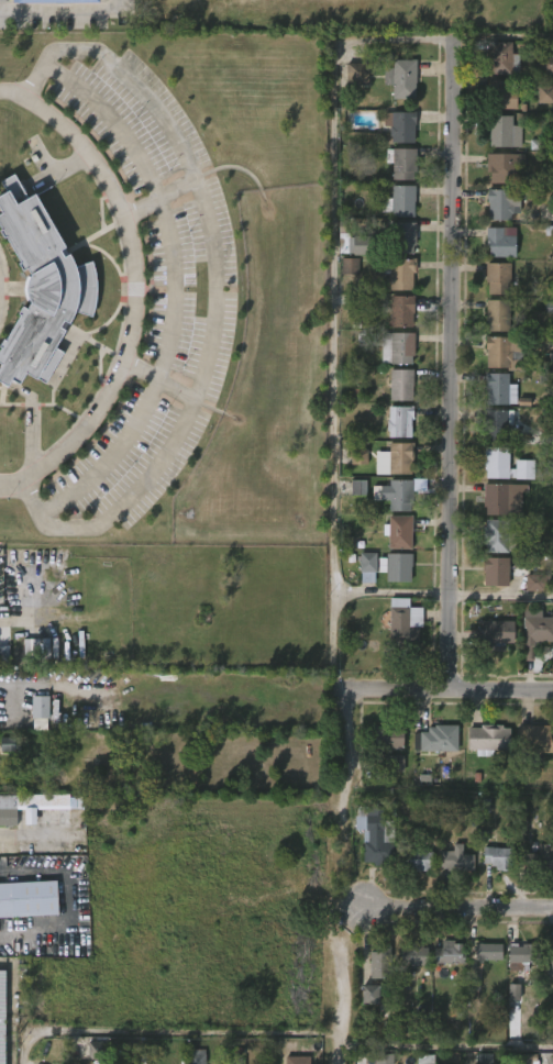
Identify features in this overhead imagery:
building: (58, 1)
road: (118, 4)
park: (350, 7)
road: (59, 11)
road: (452, 40)
building: (501, 57)
building: (545, 64)
building: (357, 75)
building: (400, 78)
building: (500, 93)
building: (544, 95)
road: (112, 121)
building: (399, 125)
building: (502, 131)
building: (400, 163)
building: (501, 166)
road: (157, 196)
building: (398, 201)
building: (500, 206)
building: (399, 236)
building: (498, 242)
building: (355, 243)
building: (350, 266)
building: (398, 273)
building: (497, 278)
building: (42, 286)
road: (174, 287)
road: (214, 287)
road: (134, 290)
building: (549, 307)
building: (397, 311)
building: (496, 315)
building: (396, 348)
building: (498, 353)
road: (333, 364)
road: (450, 364)
road: (159, 379)
building: (399, 385)
building: (498, 389)
building: (398, 422)
building: (497, 424)
building: (358, 457)
road: (110, 458)
building: (398, 459)
building: (495, 463)
building: (358, 488)
building: (396, 494)
building: (501, 500)
building: (397, 532)
building: (497, 536)
building: (366, 567)
building: (395, 567)
building: (495, 572)
building: (537, 583)
road: (443, 595)
building: (405, 624)
building: (495, 632)
building: (535, 633)
building: (38, 646)
building: (4, 654)
road: (49, 684)
road: (452, 690)
building: (37, 707)
building: (41, 724)
building: (389, 735)
building: (436, 738)
building: (487, 739)
building: (537, 739)
building: (8, 744)
building: (397, 762)
road: (351, 778)
building: (29, 805)
building: (374, 834)
road: (32, 841)
building: (497, 856)
building: (416, 858)
building: (454, 858)
building: (539, 858)
building: (29, 899)
road: (68, 906)
road: (458, 908)
building: (487, 951)
building: (447, 953)
building: (520, 955)
building: (410, 956)
building: (380, 963)
building: (549, 963)
building: (513, 993)
building: (369, 995)
road: (339, 1008)
building: (386, 1010)
building: (0, 1012)
road: (165, 1033)
road: (445, 1048)
building: (95, 1049)
building: (195, 1056)
building: (384, 1059)
building: (485, 1059)
building: (528, 1059)
building: (236, 1060)
building: (298, 1060)
building: (425, 1060)

